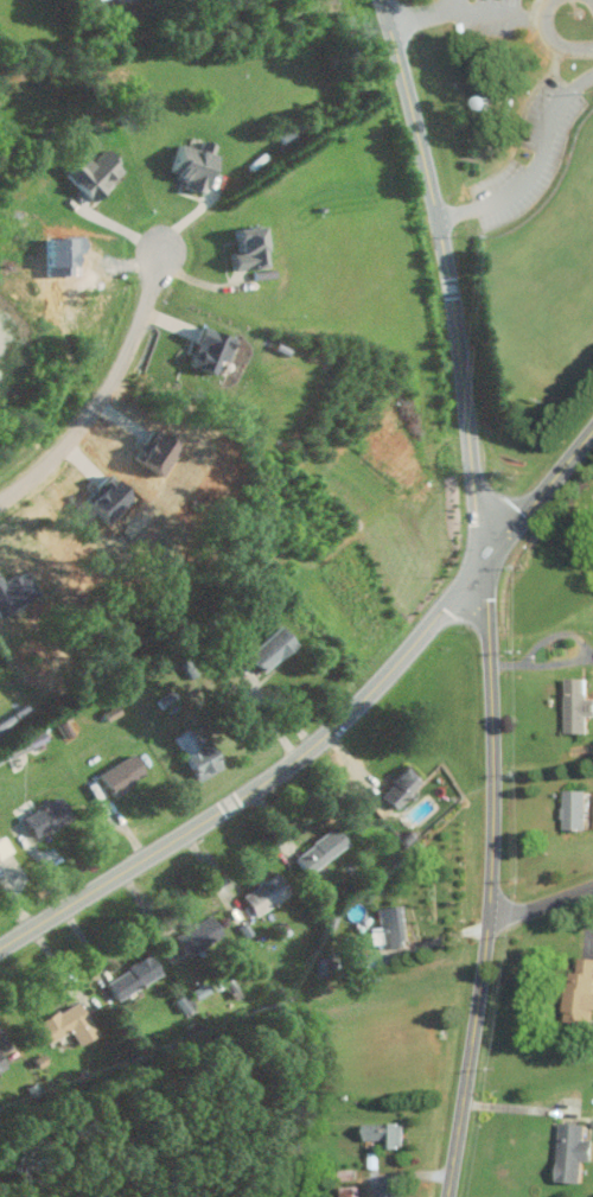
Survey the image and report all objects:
building: (115, 0)
road: (591, 1)
road: (451, 2)
road: (465, 7)
road: (547, 8)
parking lot: (486, 18)
road: (561, 44)
water tower: (478, 98)
parking lot: (529, 155)
road: (534, 163)
building: (189, 164)
building: (90, 172)
building: (243, 248)
building: (205, 349)
road: (109, 396)
road: (589, 439)
road: (485, 594)
building: (267, 648)
road: (580, 656)
building: (572, 705)
road: (267, 711)
road: (333, 731)
building: (21, 741)
building: (195, 755)
building: (116, 775)
building: (397, 787)
building: (569, 808)
building: (42, 816)
building: (4, 848)
building: (317, 851)
building: (261, 894)
road: (541, 904)
building: (388, 925)
building: (195, 935)
road: (432, 941)
building: (129, 976)
building: (575, 992)
building: (64, 1024)
building: (1, 1067)
road: (517, 1107)
building: (381, 1133)
building: (566, 1152)
building: (347, 1191)

